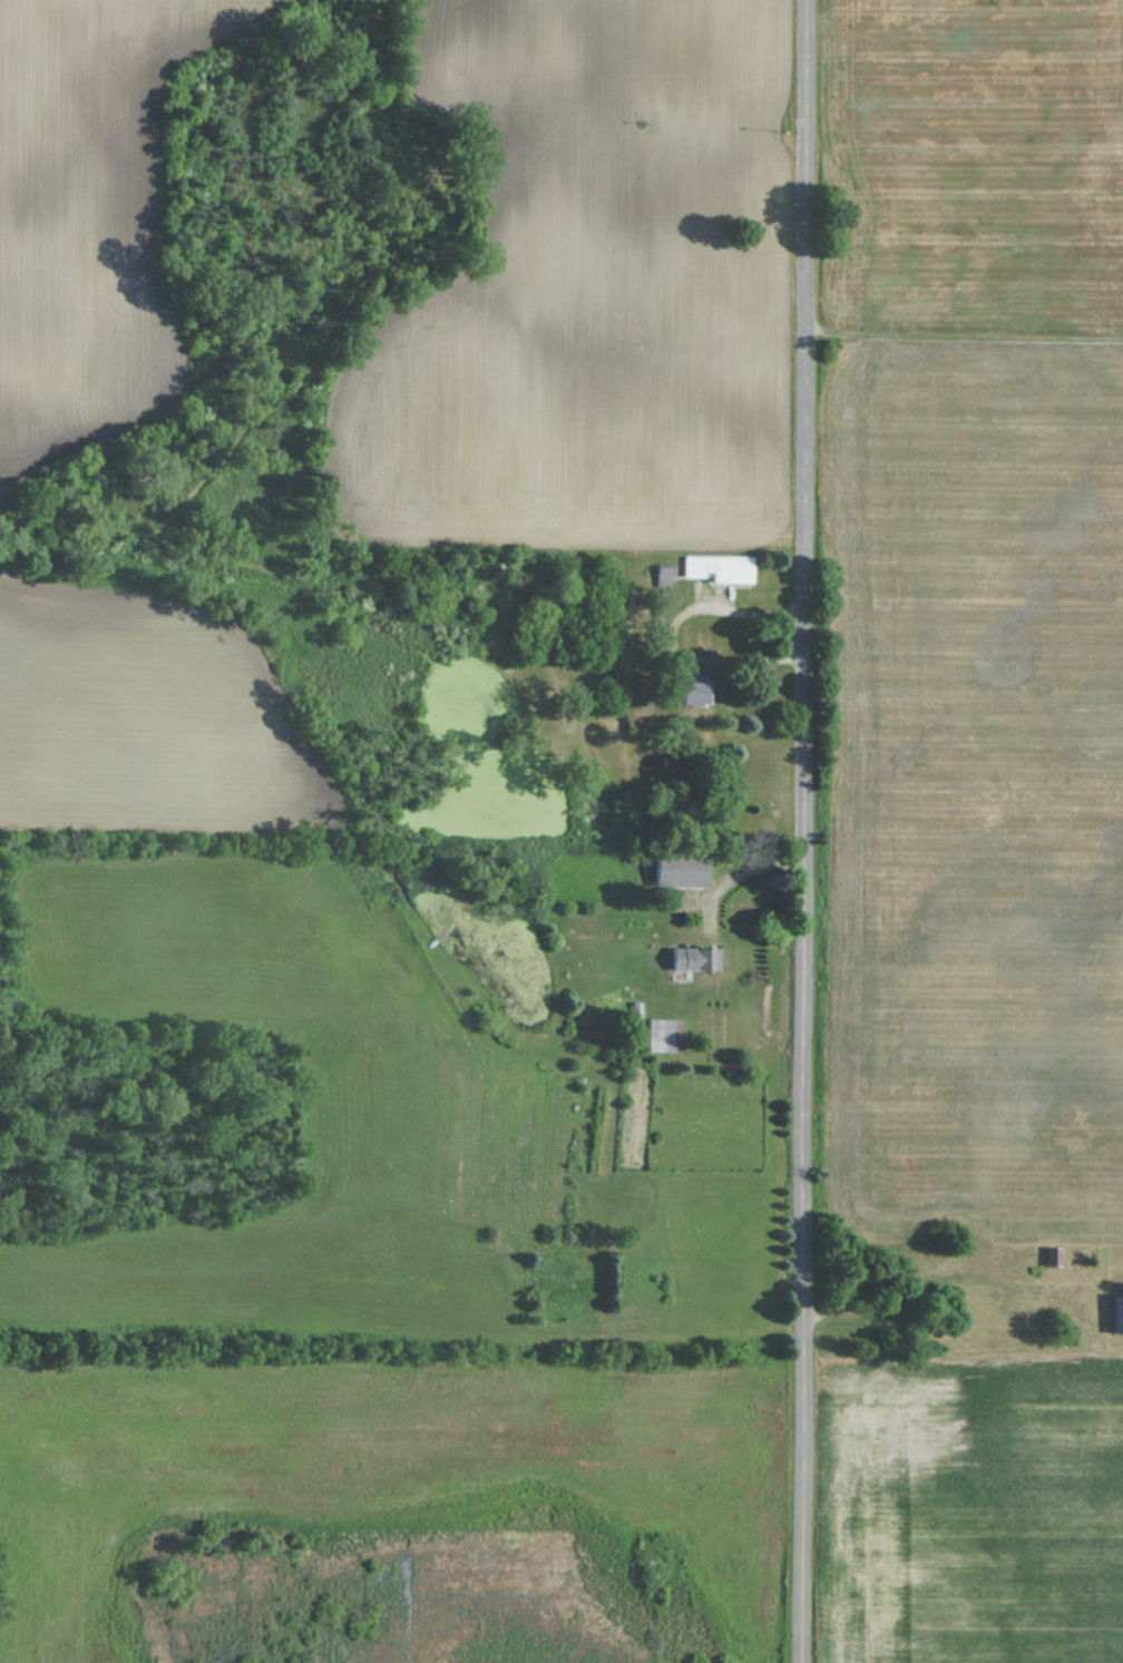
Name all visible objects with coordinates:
building: (717, 568)
road: (671, 635)
building: (694, 693)
road: (808, 831)
building: (681, 869)
building: (694, 959)
building: (664, 1035)
building: (1053, 1254)
building: (1117, 1313)

